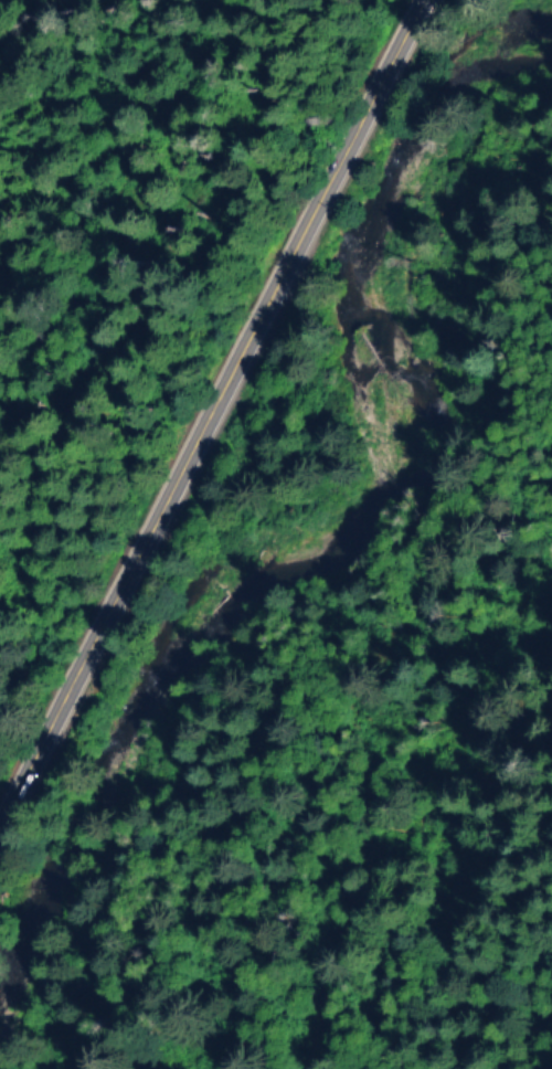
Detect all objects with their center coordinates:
road: (212, 410)
river: (296, 557)

